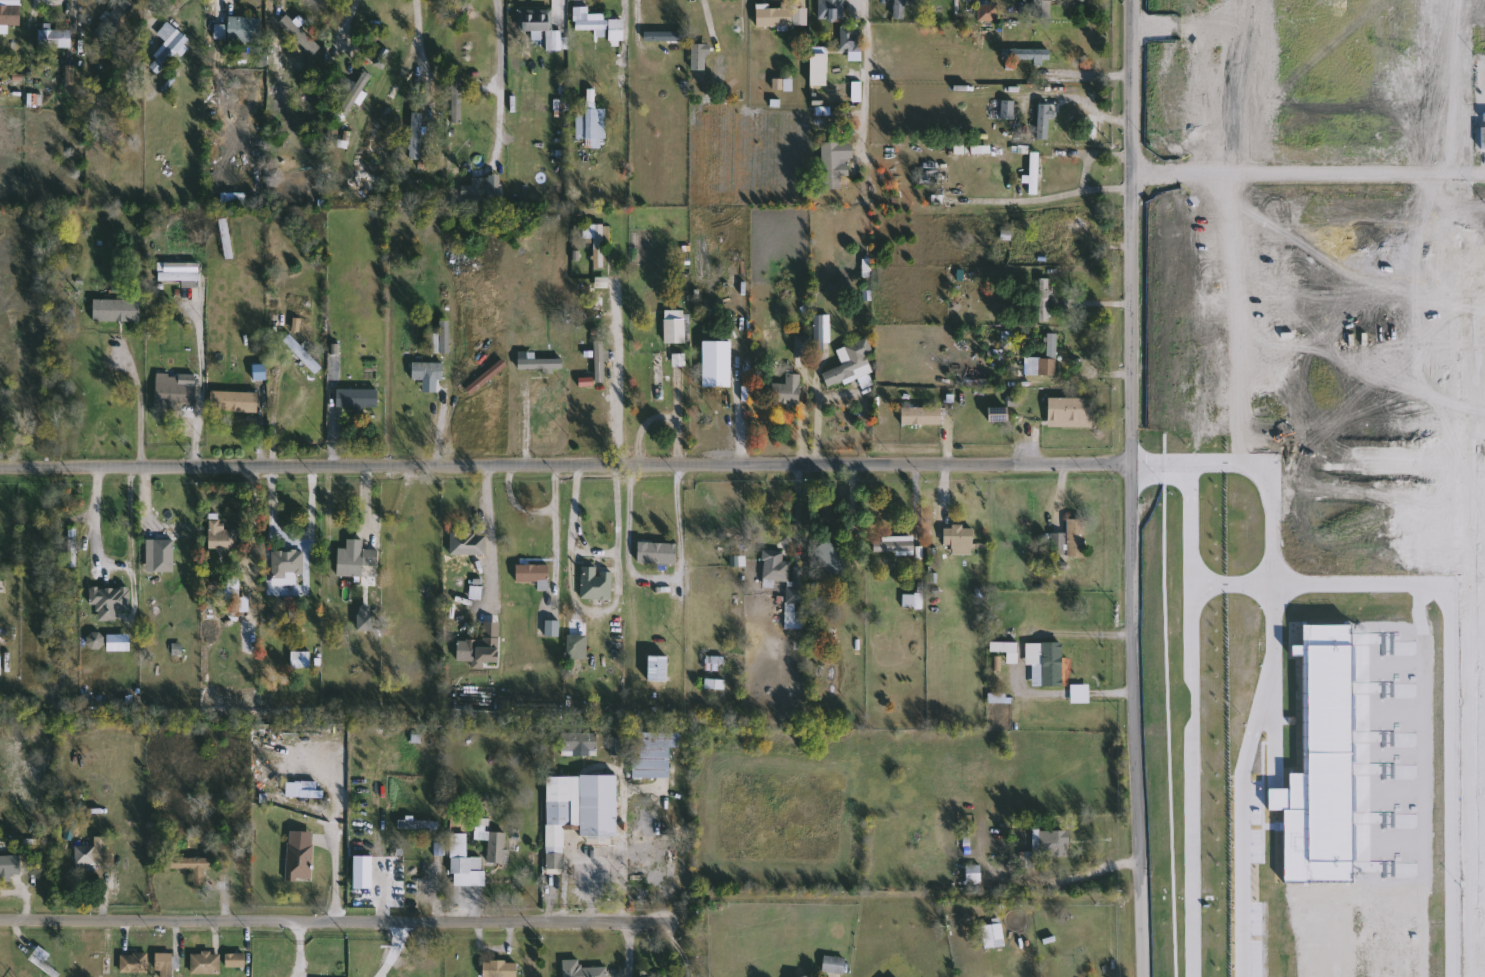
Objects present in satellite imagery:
road: (58, 8)
building: (900, 9)
building: (1043, 9)
building: (833, 10)
building: (9, 14)
road: (640, 15)
building: (783, 17)
road: (224, 19)
building: (116, 20)
building: (536, 20)
building: (590, 20)
road: (33, 27)
road: (347, 27)
building: (245, 30)
building: (300, 35)
building: (852, 37)
building: (56, 38)
road: (420, 50)
building: (175, 53)
building: (1027, 54)
road: (622, 56)
building: (819, 70)
road: (869, 82)
road: (495, 83)
building: (361, 85)
building: (458, 99)
road: (1080, 102)
building: (1009, 109)
building: (1045, 121)
building: (592, 123)
building: (837, 164)
road: (1133, 170)
road: (1153, 170)
road: (1327, 171)
building: (1036, 173)
building: (931, 177)
building: (485, 191)
building: (234, 198)
road: (1034, 205)
building: (1056, 233)
building: (227, 237)
building: (601, 242)
building: (182, 273)
building: (712, 285)
building: (716, 286)
building: (1045, 300)
building: (117, 310)
building: (679, 327)
building: (822, 332)
building: (295, 336)
building: (442, 338)
building: (802, 345)
building: (713, 355)
building: (1044, 360)
building: (601, 361)
building: (849, 363)
building: (541, 364)
building: (427, 371)
road: (621, 376)
building: (487, 377)
building: (173, 388)
road: (200, 389)
building: (788, 390)
building: (103, 399)
building: (357, 399)
building: (234, 401)
road: (277, 404)
road: (141, 405)
building: (1069, 410)
road: (817, 415)
building: (921, 416)
road: (743, 418)
road: (442, 423)
road: (264, 425)
road: (531, 426)
road: (805, 427)
road: (866, 430)
road: (564, 466)
road: (1128, 488)
road: (484, 509)
road: (856, 512)
road: (800, 513)
road: (535, 514)
road: (919, 516)
road: (688, 525)
road: (252, 527)
building: (169, 531)
building: (224, 536)
building: (1077, 537)
road: (397, 541)
building: (469, 543)
building: (1059, 544)
building: (894, 545)
building: (74, 546)
road: (591, 550)
building: (107, 552)
building: (658, 553)
building: (358, 560)
building: (288, 567)
road: (105, 572)
building: (534, 575)
building: (784, 575)
road: (655, 578)
building: (597, 584)
building: (110, 601)
building: (914, 601)
road: (593, 612)
building: (795, 616)
building: (554, 628)
building: (476, 643)
building: (578, 646)
building: (302, 659)
building: (715, 663)
building: (1, 664)
building: (1050, 665)
building: (659, 668)
building: (716, 683)
building: (1080, 693)
building: (653, 753)
building: (1318, 764)
building: (303, 798)
building: (579, 804)
building: (419, 825)
road: (340, 835)
building: (499, 848)
building: (662, 848)
road: (685, 851)
building: (86, 856)
building: (555, 860)
building: (594, 863)
building: (466, 864)
building: (194, 867)
building: (974, 873)
road: (564, 876)
road: (625, 889)
road: (437, 891)
road: (340, 925)
building: (996, 936)
road: (299, 950)
road: (630, 950)
building: (43, 961)
building: (236, 961)
building: (424, 962)
building: (135, 963)
building: (206, 964)
building: (834, 964)
building: (501, 969)
building: (582, 970)
building: (810, 976)

